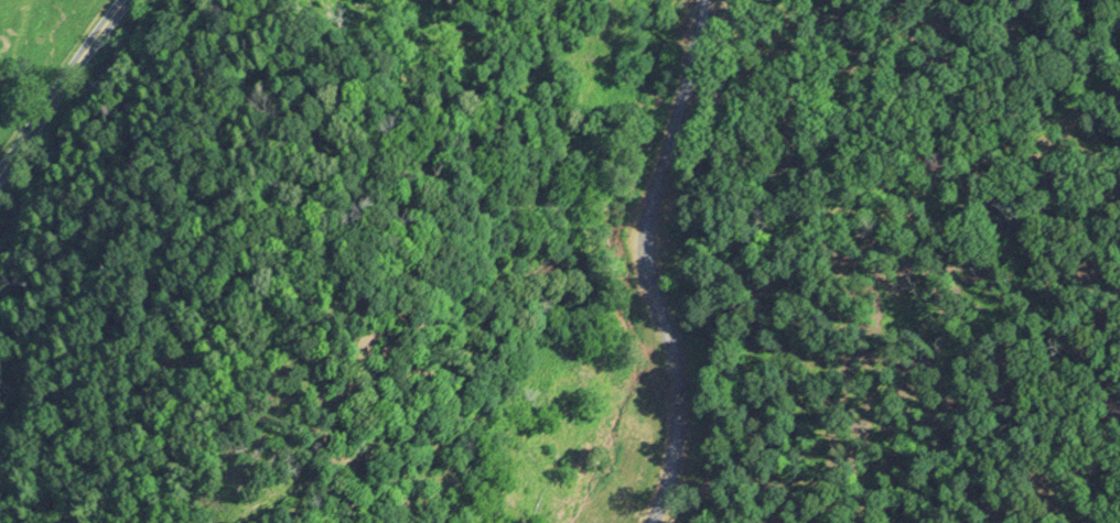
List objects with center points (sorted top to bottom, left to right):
road: (65, 90)

